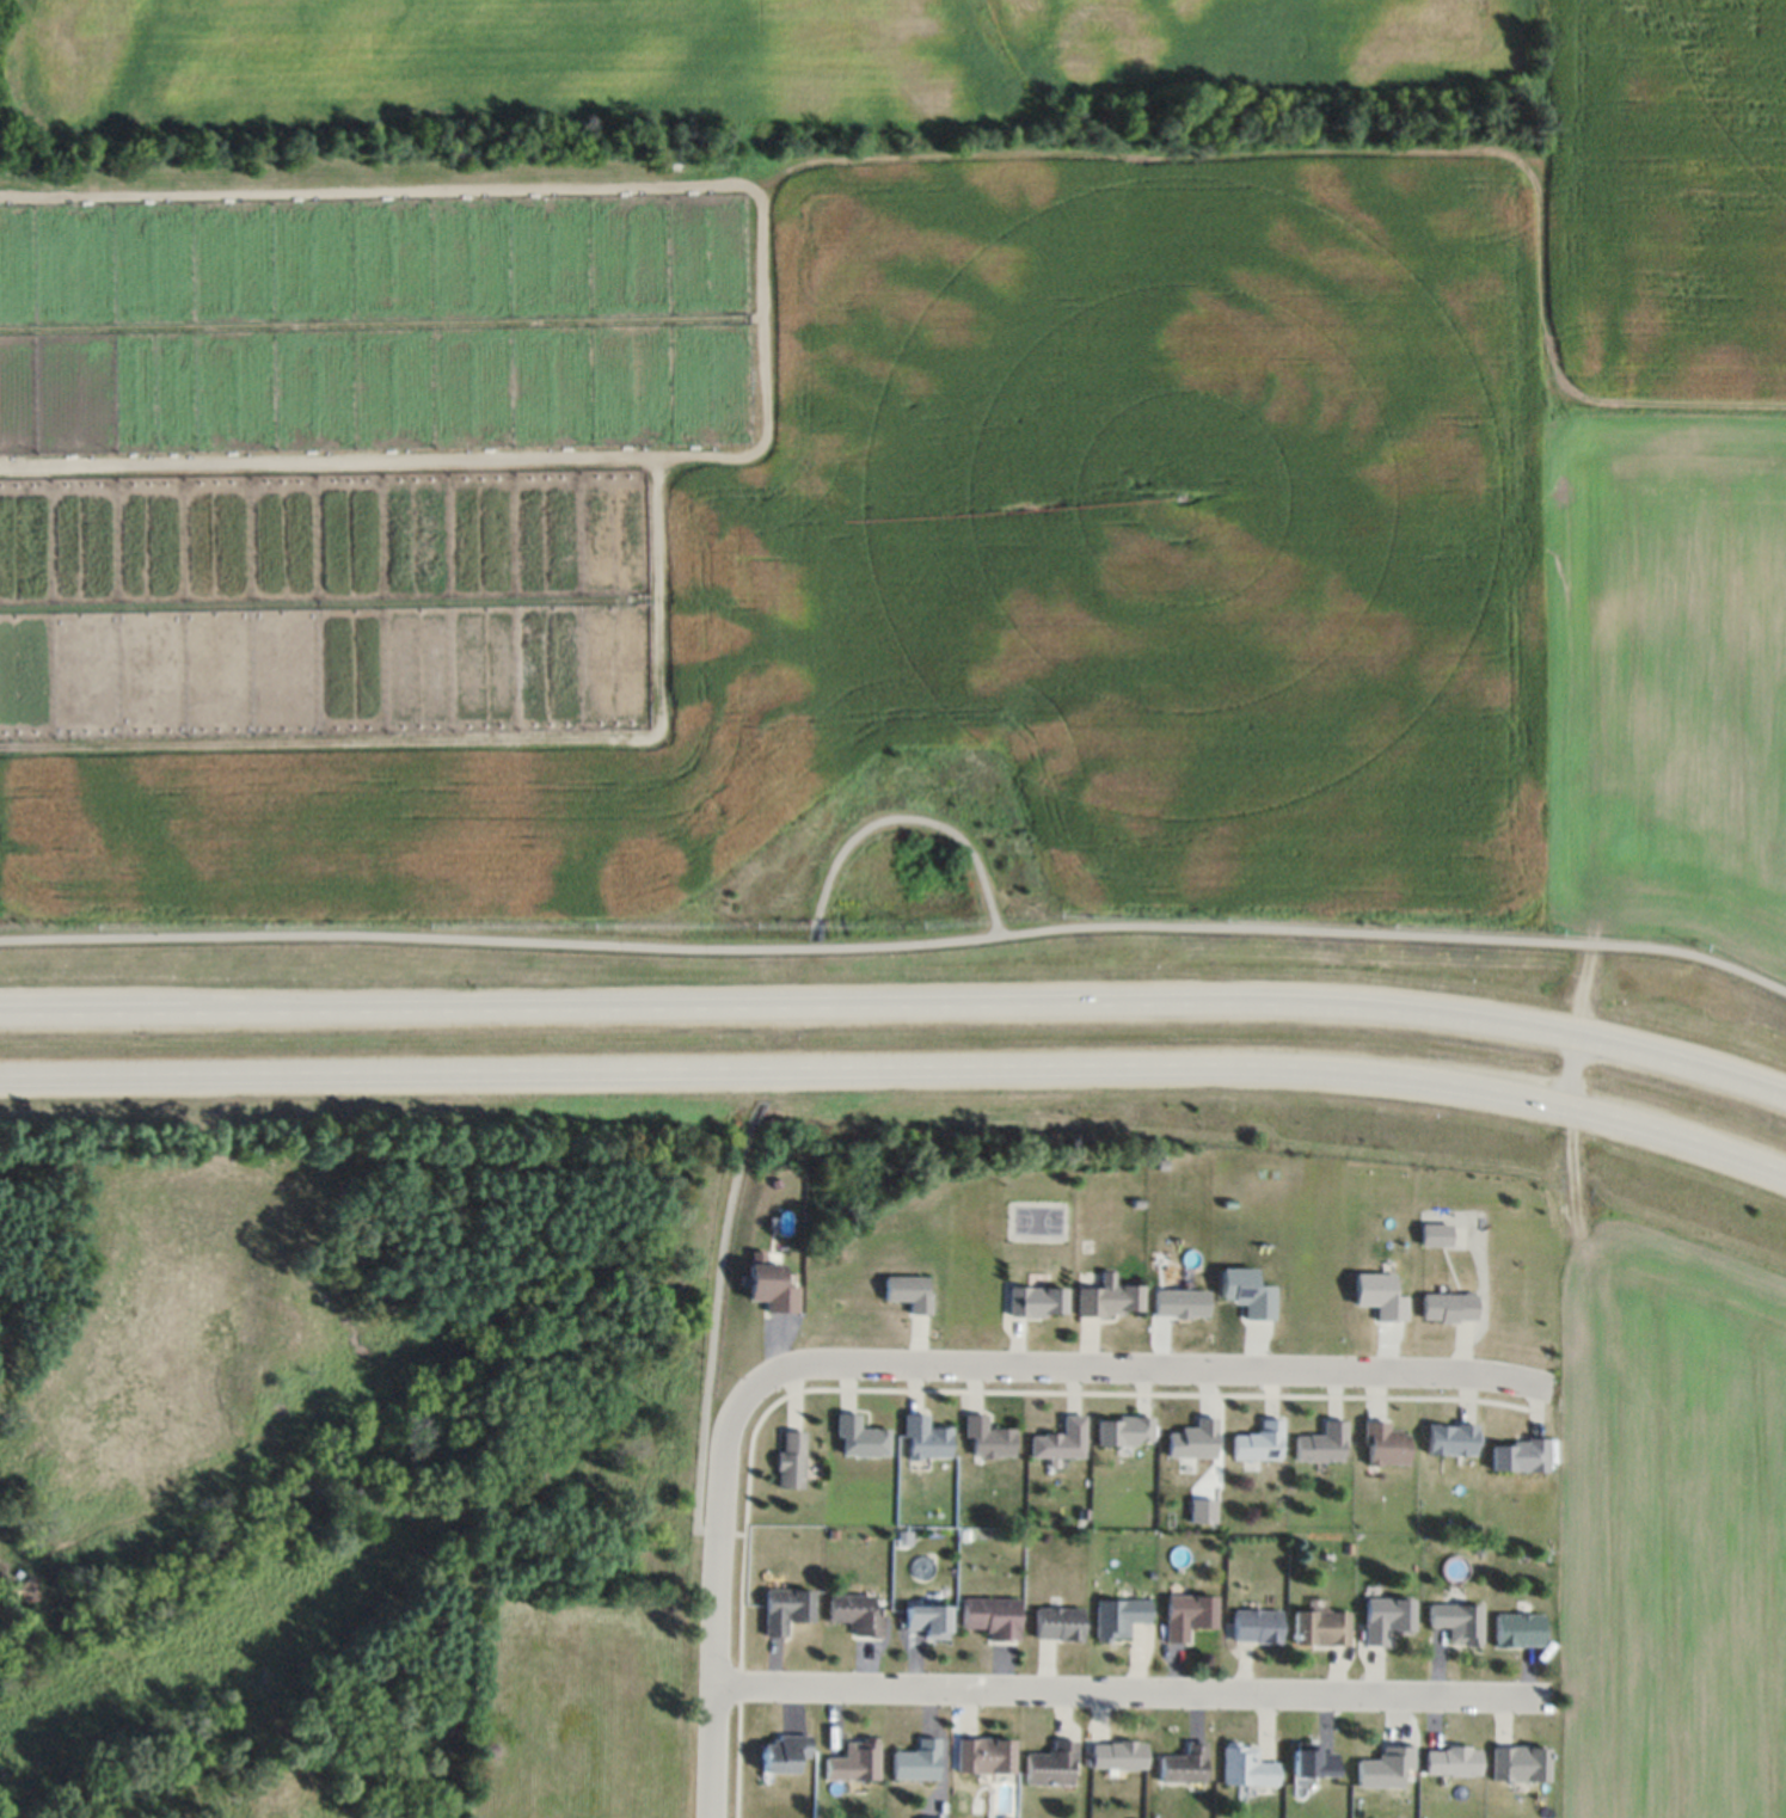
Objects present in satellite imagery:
crop: (895, 450)
road: (1548, 469)
building: (194, 538)
building: (572, 616)
building: (350, 656)
building: (302, 717)
road: (902, 817)
road: (897, 944)
road: (897, 1005)
road: (901, 1064)
building: (1435, 1234)
building: (769, 1286)
building: (908, 1292)
building: (1247, 1292)
building: (1379, 1295)
building: (1109, 1298)
building: (1036, 1303)
building: (1179, 1303)
building: (1448, 1307)
road: (714, 1325)
road: (1148, 1366)
building: (1123, 1430)
building: (858, 1437)
building: (923, 1438)
building: (1453, 1438)
building: (987, 1439)
building: (1060, 1439)
building: (1192, 1439)
building: (1258, 1442)
building: (1322, 1443)
building: (1383, 1444)
building: (1522, 1455)
building: (788, 1458)
crop: (1668, 1517)
road: (716, 1597)
building: (785, 1609)
building: (854, 1614)
building: (1189, 1615)
building: (992, 1616)
building: (1118, 1617)
building: (1387, 1619)
building: (927, 1620)
building: (1457, 1622)
building: (1057, 1623)
building: (1256, 1626)
building: (1321, 1627)
building: (1518, 1629)
road: (1129, 1690)
building: (784, 1753)
building: (1118, 1755)
building: (983, 1756)
building: (1453, 1759)
building: (1313, 1761)
building: (853, 1762)
building: (915, 1762)
building: (1521, 1763)
building: (1184, 1764)
building: (1051, 1765)
building: (1247, 1765)
building: (1387, 1767)

